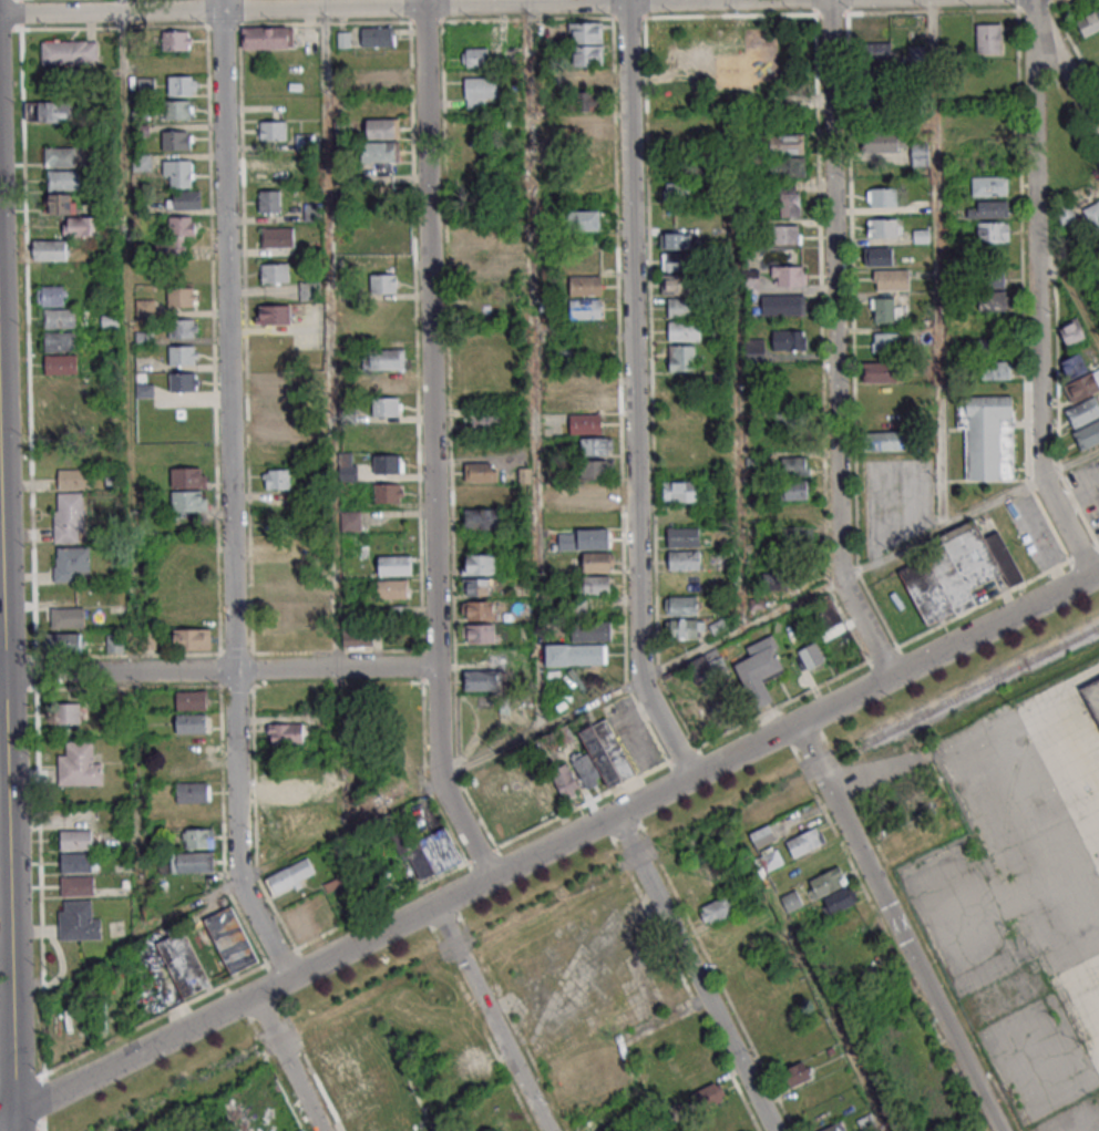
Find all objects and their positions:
road: (527, 1)
road: (339, 7)
road: (1031, 16)
building: (1089, 22)
building: (585, 32)
building: (377, 35)
building: (267, 37)
building: (988, 39)
building: (176, 40)
building: (877, 51)
building: (70, 52)
building: (586, 55)
building: (475, 58)
park: (726, 58)
building: (586, 78)
road: (1070, 79)
building: (379, 82)
building: (182, 85)
building: (480, 93)
building: (877, 99)
building: (586, 100)
building: (179, 109)
building: (48, 111)
building: (588, 124)
building: (382, 127)
building: (470, 127)
building: (273, 130)
building: (176, 140)
building: (885, 142)
building: (787, 144)
building: (381, 154)
building: (918, 154)
building: (61, 156)
building: (788, 166)
building: (178, 173)
building: (268, 176)
building: (63, 179)
building: (989, 185)
building: (678, 193)
building: (882, 197)
building: (184, 199)
building: (269, 202)
building: (790, 202)
building: (62, 203)
building: (987, 209)
building: (312, 212)
building: (1065, 213)
building: (1092, 216)
building: (585, 219)
building: (81, 226)
building: (882, 227)
building: (993, 232)
building: (787, 234)
building: (177, 235)
building: (278, 237)
building: (676, 240)
building: (477, 241)
building: (49, 249)
building: (382, 253)
building: (879, 256)
building: (676, 260)
building: (587, 261)
road: (936, 263)
building: (480, 265)
building: (275, 273)
building: (788, 275)
building: (891, 279)
building: (992, 279)
building: (750, 281)
building: (383, 282)
building: (585, 285)
building: (677, 285)
building: (309, 290)
road: (1067, 290)
building: (51, 295)
building: (182, 297)
building: (992, 300)
building: (783, 304)
building: (585, 308)
building: (681, 308)
road: (1037, 309)
building: (885, 310)
building: (273, 313)
building: (60, 318)
building: (183, 328)
building: (684, 330)
building: (1072, 330)
road: (330, 333)
road: (226, 335)
building: (789, 339)
building: (60, 340)
building: (886, 341)
road: (834, 345)
building: (990, 345)
building: (754, 349)
building: (183, 354)
building: (681, 358)
building: (388, 359)
building: (60, 363)
road: (533, 366)
building: (1072, 366)
building: (995, 370)
building: (882, 371)
building: (184, 381)
building: (391, 382)
building: (270, 383)
building: (62, 387)
building: (1082, 387)
building: (143, 390)
road: (634, 394)
building: (595, 401)
building: (387, 405)
building: (273, 407)
building: (1083, 411)
building: (585, 423)
building: (487, 424)
building: (273, 430)
building: (386, 434)
building: (1087, 434)
building: (987, 435)
road: (738, 440)
building: (883, 440)
road: (431, 444)
building: (596, 446)
building: (69, 453)
building: (388, 463)
building: (795, 465)
road: (130, 466)
building: (595, 469)
building: (481, 472)
building: (72, 479)
building: (277, 479)
building: (795, 490)
building: (680, 491)
building: (388, 493)
building: (596, 493)
building: (483, 495)
building: (69, 517)
building: (482, 518)
building: (350, 521)
building: (682, 536)
building: (798, 536)
building: (584, 539)
building: (274, 545)
building: (723, 556)
building: (684, 559)
building: (597, 562)
building: (71, 564)
building: (480, 564)
building: (394, 565)
building: (956, 570)
road: (1096, 573)
building: (594, 584)
building: (477, 586)
building: (392, 588)
building: (281, 589)
road: (1, 602)
building: (681, 605)
building: (477, 609)
building: (301, 610)
building: (826, 615)
building: (66, 617)
building: (684, 628)
building: (590, 629)
building: (479, 633)
building: (192, 638)
building: (357, 639)
building: (63, 642)
building: (115, 642)
building: (575, 654)
building: (811, 655)
road: (335, 669)
building: (760, 669)
road: (117, 671)
road: (1, 674)
building: (487, 676)
railway: (974, 687)
road: (617, 691)
building: (1092, 697)
building: (191, 699)
building: (69, 713)
building: (191, 722)
building: (285, 734)
building: (186, 753)
building: (602, 757)
building: (78, 767)
road: (1066, 779)
building: (565, 781)
building: (283, 789)
building: (192, 791)
building: (512, 814)
road: (236, 830)
building: (762, 835)
building: (198, 837)
building: (908, 840)
building: (73, 841)
building: (804, 841)
road: (553, 844)
building: (428, 851)
building: (771, 858)
building: (192, 862)
building: (74, 864)
building: (290, 875)
road: (39, 881)
building: (826, 882)
building: (75, 887)
road: (8, 894)
building: (840, 899)
building: (791, 901)
building: (717, 908)
building: (76, 923)
building: (299, 924)
road: (896, 927)
building: (228, 942)
building: (182, 966)
road: (247, 973)
road: (694, 973)
road: (6, 1007)
road: (491, 1018)
road: (623, 1042)
building: (465, 1060)
road: (287, 1063)
building: (795, 1073)
building: (377, 1093)
building: (708, 1094)
road: (7, 1118)
road: (14, 1122)
building: (835, 1127)
building: (302, 1130)

